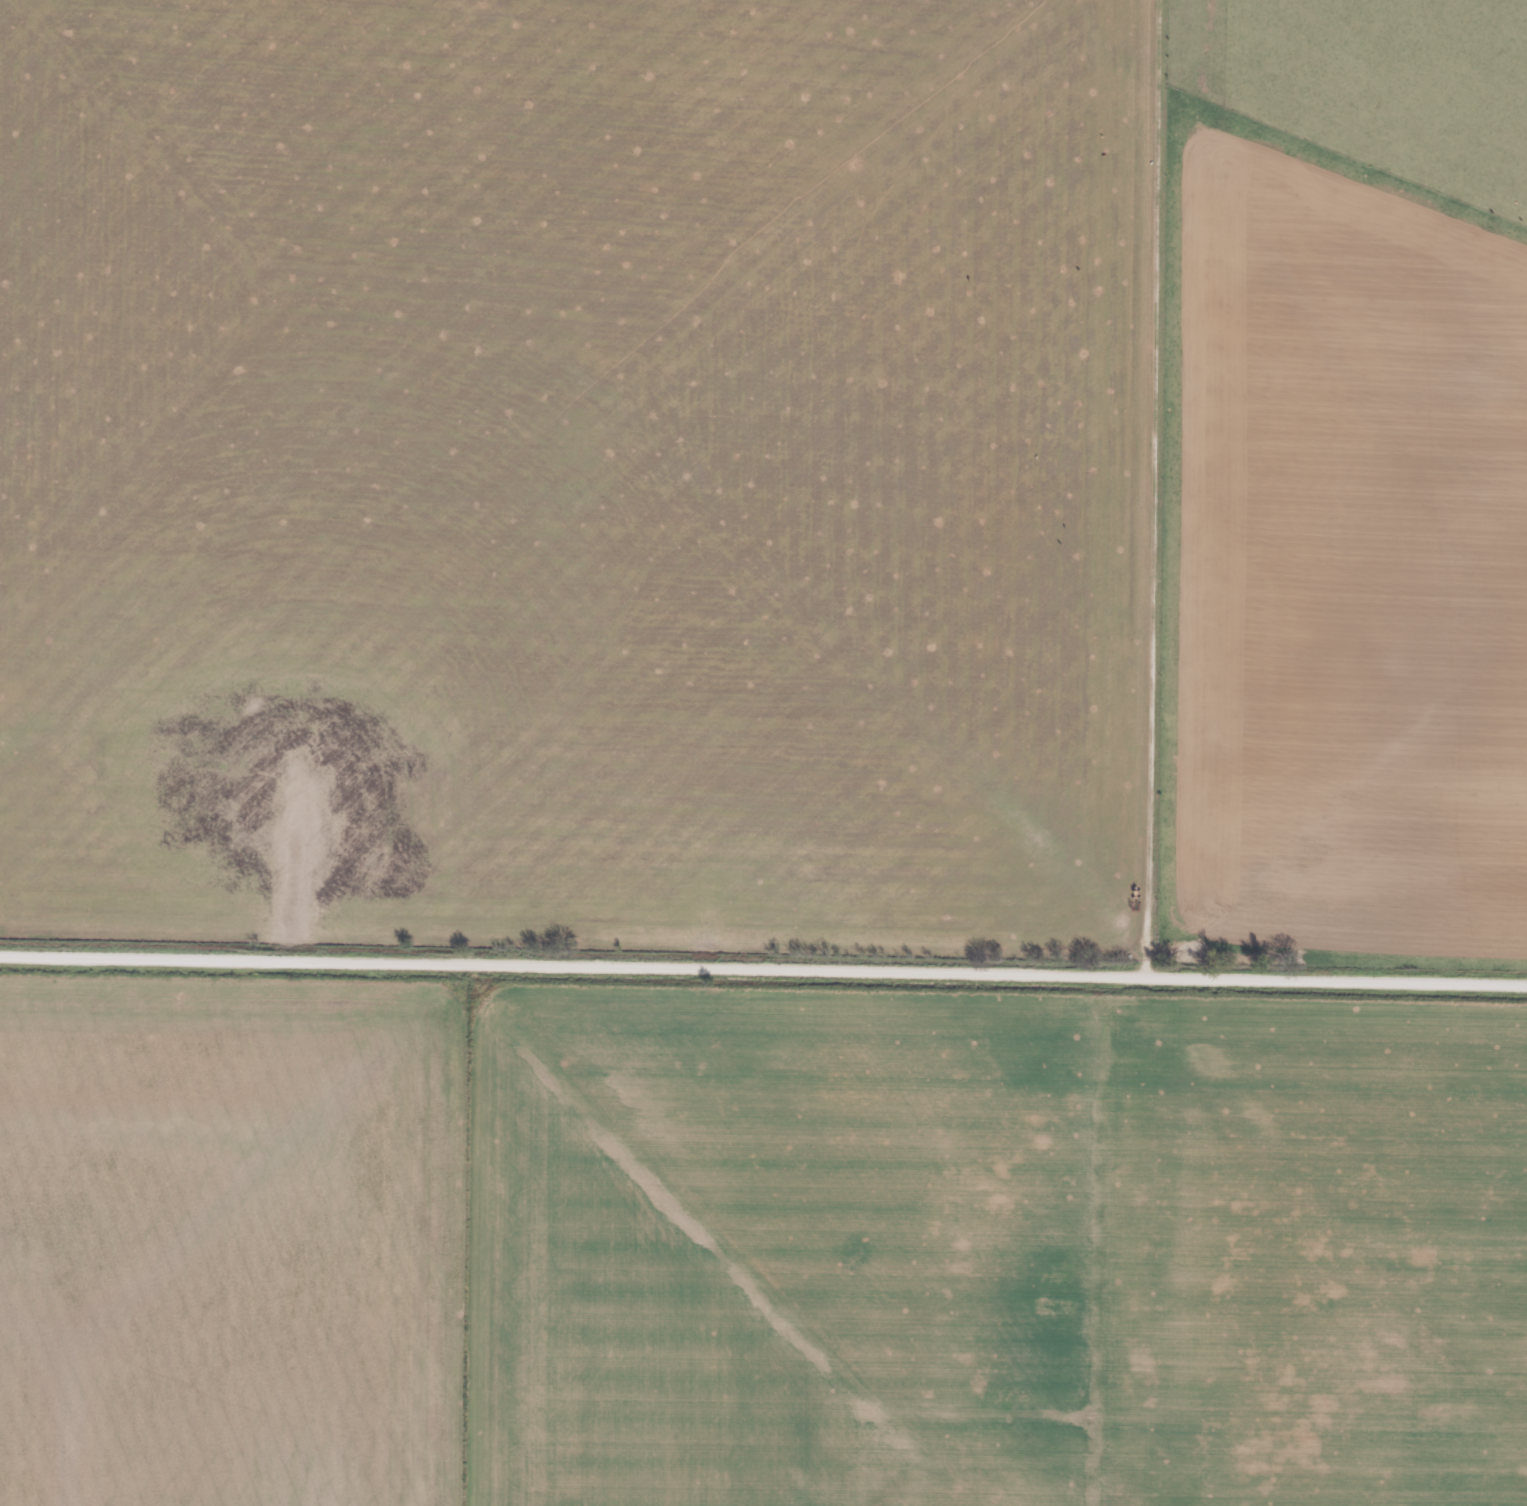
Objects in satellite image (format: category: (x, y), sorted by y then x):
road: (1163, 490)
road: (763, 973)

